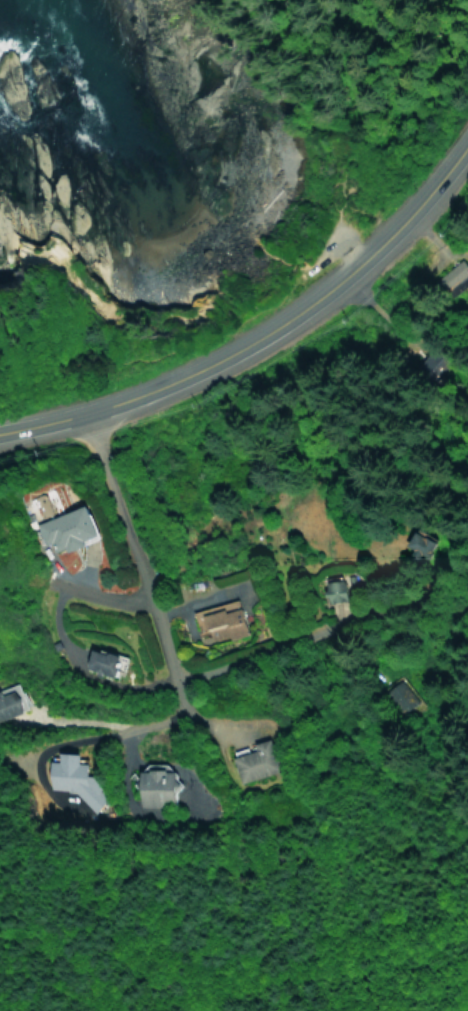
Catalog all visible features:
road: (400, 63)
road: (465, 142)
road: (328, 232)
parking lot: (338, 232)
road: (277, 257)
road: (340, 278)
park: (47, 297)
road: (95, 408)
building: (65, 528)
building: (412, 544)
road: (134, 558)
road: (88, 565)
building: (334, 588)
road: (100, 590)
road: (197, 600)
building: (220, 619)
road: (55, 623)
road: (293, 635)
building: (101, 659)
building: (401, 696)
building: (9, 697)
road: (85, 720)
road: (221, 729)
road: (112, 730)
building: (252, 759)
road: (126, 766)
building: (76, 779)
building: (155, 783)

